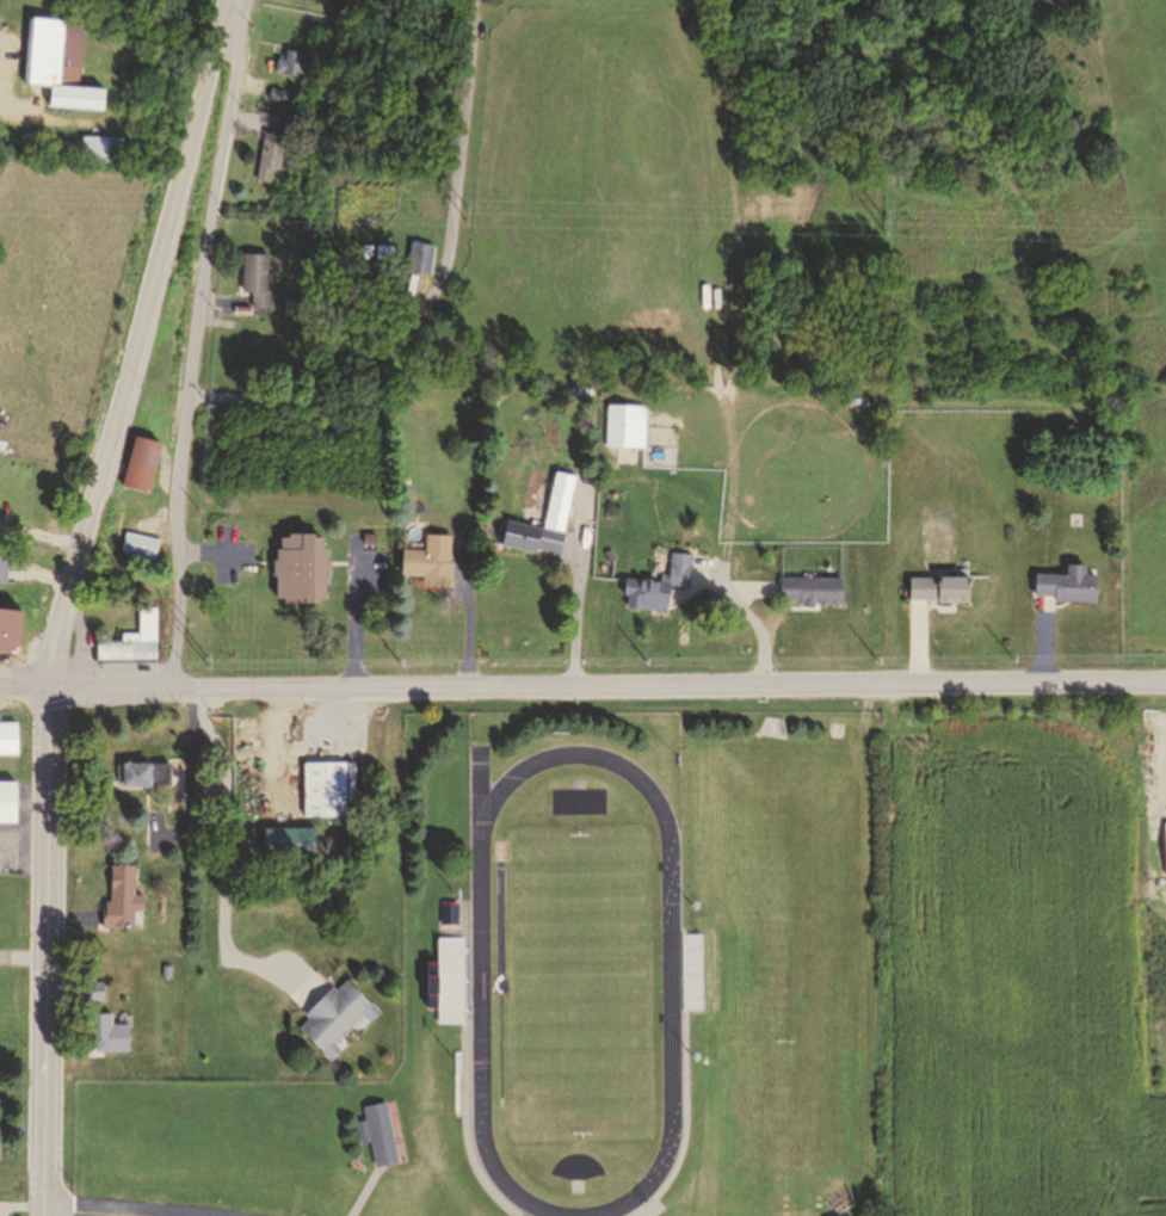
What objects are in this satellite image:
building: (302, 51)
building: (296, 67)
building: (56, 72)
building: (284, 81)
building: (278, 95)
building: (294, 106)
building: (289, 122)
building: (278, 140)
building: (99, 147)
building: (270, 162)
building: (390, 247)
building: (420, 253)
building: (263, 270)
road: (438, 280)
road: (198, 340)
building: (625, 424)
building: (143, 459)
building: (543, 517)
building: (143, 537)
building: (431, 558)
building: (302, 562)
building: (2, 566)
road: (580, 582)
building: (658, 582)
building: (1072, 585)
building: (810, 586)
building: (938, 588)
road: (67, 597)
building: (2, 626)
building: (134, 640)
road: (582, 680)
building: (7, 736)
building: (142, 771)
building: (329, 784)
building: (6, 802)
road: (24, 828)
building: (196, 833)
building: (289, 837)
building: (1161, 847)
road: (229, 856)
building: (121, 896)
building: (446, 914)
building: (171, 952)
building: (689, 974)
building: (443, 981)
building: (93, 988)
building: (337, 1012)
building: (107, 1032)
road: (21, 1123)
road: (85, 1214)
road: (105, 1215)
parking lot: (243, 1215)

